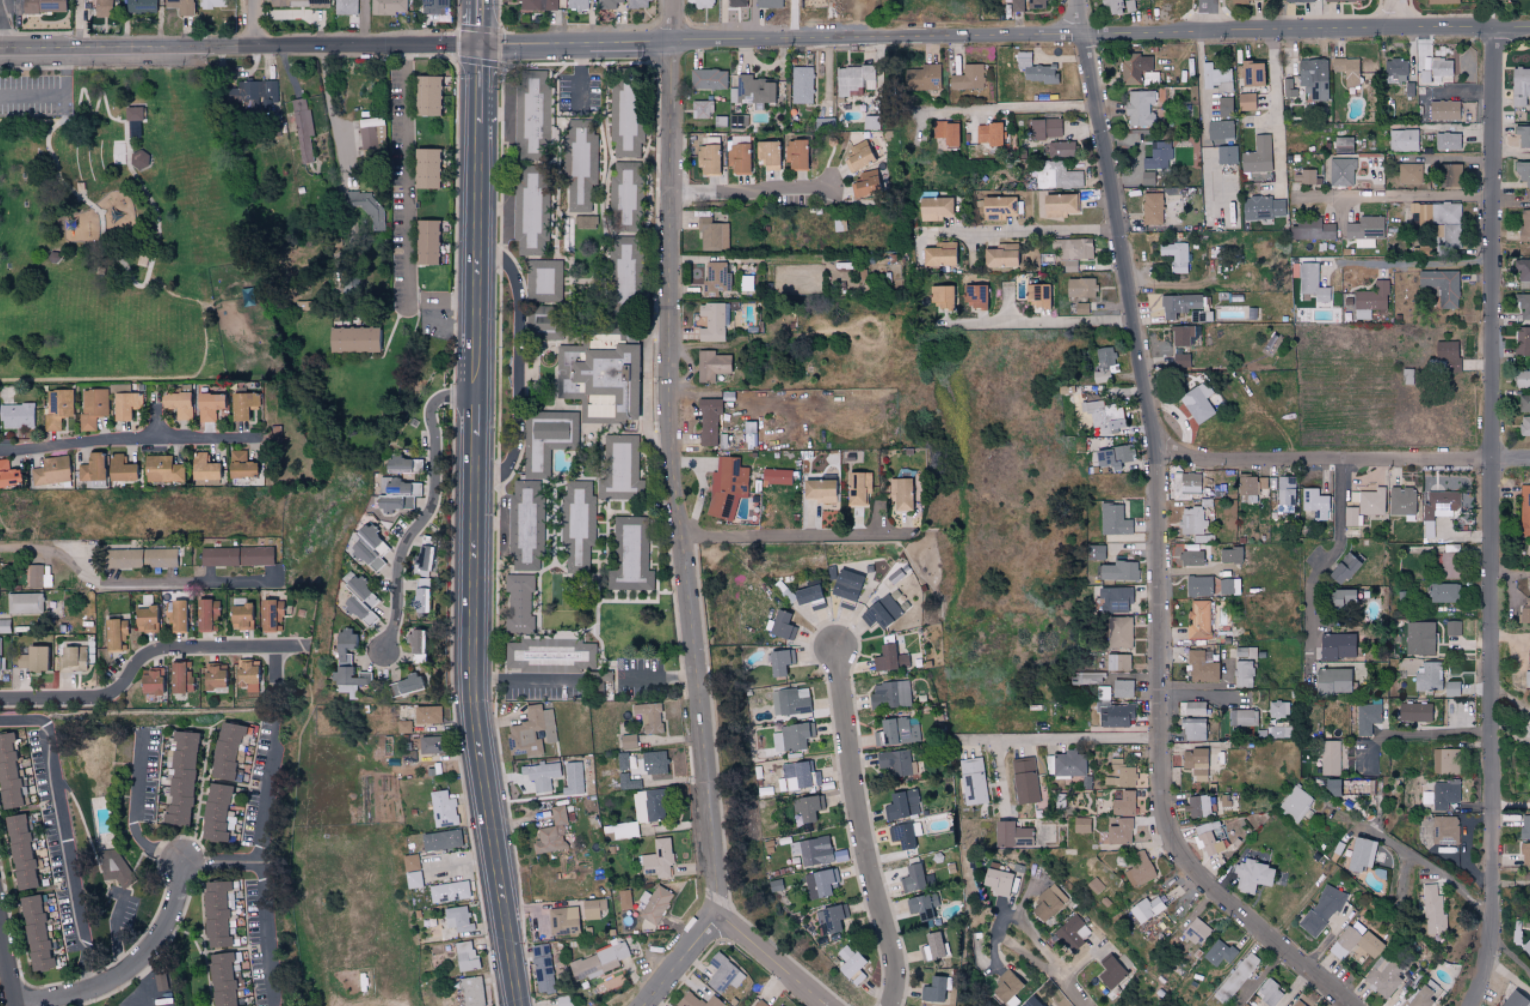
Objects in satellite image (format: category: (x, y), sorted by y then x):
building: (1345, 0)
building: (1500, 0)
building: (1245, 1)
building: (1299, 1)
building: (1441, 2)
building: (298, 3)
building: (639, 3)
building: (736, 3)
building: (767, 3)
building: (210, 4)
building: (577, 4)
building: (608, 4)
building: (702, 4)
building: (812, 4)
building: (1036, 4)
building: (537, 5)
building: (1017, 5)
building: (43, 6)
building: (142, 6)
building: (181, 6)
building: (1117, 6)
building: (345, 7)
building: (388, 7)
building: (433, 7)
building: (102, 8)
road: (1397, 12)
road: (1209, 14)
road: (796, 19)
road: (252, 21)
road: (81, 22)
road: (367, 22)
road: (1, 23)
road: (479, 23)
road: (764, 38)
traffic signals: (479, 46)
building: (1033, 68)
building: (1133, 68)
building: (1347, 70)
building: (1395, 71)
building: (1437, 72)
building: (1251, 74)
road: (580, 77)
building: (922, 78)
building: (968, 78)
building: (1218, 78)
building: (708, 79)
building: (850, 79)
building: (1313, 79)
building: (1520, 82)
road: (479, 85)
building: (802, 85)
building: (753, 90)
road: (1206, 94)
parking lot: (37, 96)
building: (251, 96)
building: (426, 96)
road: (59, 97)
building: (1246, 102)
road: (330, 103)
building: (1224, 107)
road: (1014, 108)
building: (1140, 108)
building: (701, 109)
building: (1444, 110)
building: (535, 111)
road: (1278, 112)
building: (135, 113)
building: (625, 119)
building: (1044, 128)
building: (134, 129)
building: (302, 130)
building: (1220, 130)
building: (946, 133)
building: (989, 134)
building: (367, 135)
building: (1523, 136)
building: (1403, 140)
building: (1447, 142)
building: (1342, 145)
building: (1059, 149)
building: (767, 153)
building: (796, 155)
building: (1226, 155)
building: (858, 156)
building: (1158, 156)
building: (1257, 156)
building: (139, 159)
building: (708, 159)
building: (738, 159)
building: (580, 167)
building: (425, 169)
building: (1341, 172)
building: (1410, 173)
building: (1523, 173)
building: (1057, 176)
building: (1449, 176)
building: (1147, 177)
building: (865, 185)
road: (760, 189)
building: (622, 196)
road: (1394, 196)
road: (211, 205)
building: (367, 206)
building: (1058, 206)
road: (408, 208)
building: (934, 208)
building: (998, 208)
building: (1262, 208)
building: (533, 209)
building: (1152, 209)
building: (1364, 228)
park: (119, 229)
road: (1031, 229)
building: (1311, 229)
building: (712, 235)
building: (426, 243)
building: (1072, 252)
road: (154, 254)
building: (938, 255)
building: (1000, 256)
building: (1175, 256)
road: (477, 258)
road: (1417, 261)
building: (624, 270)
building: (1523, 273)
building: (544, 276)
building: (714, 278)
building: (1312, 282)
building: (1441, 287)
building: (1080, 288)
building: (1037, 296)
building: (940, 297)
building: (973, 297)
building: (1370, 300)
building: (1179, 305)
building: (1521, 306)
road: (1051, 320)
building: (713, 321)
building: (541, 323)
building: (1182, 335)
building: (354, 338)
building: (1522, 341)
building: (1447, 355)
building: (1104, 359)
building: (1180, 360)
building: (711, 365)
road: (518, 366)
building: (599, 375)
building: (1522, 377)
building: (1197, 402)
building: (177, 403)
building: (126, 404)
building: (242, 404)
building: (1524, 404)
building: (208, 406)
building: (58, 407)
building: (93, 407)
building: (17, 415)
road: (476, 415)
building: (1103, 416)
building: (708, 421)
road: (155, 424)
building: (1524, 426)
road: (131, 436)
building: (546, 438)
building: (1112, 456)
road: (1344, 460)
road: (671, 461)
building: (395, 463)
building: (240, 464)
building: (415, 464)
building: (91, 467)
building: (202, 467)
building: (119, 468)
building: (620, 468)
building: (161, 469)
building: (51, 470)
building: (7, 473)
building: (776, 476)
building: (1189, 481)
building: (727, 487)
building: (858, 487)
building: (1252, 487)
building: (400, 489)
building: (817, 489)
building: (1286, 490)
building: (901, 494)
building: (1369, 500)
building: (1401, 500)
building: (387, 502)
building: (1317, 503)
building: (1439, 503)
road: (427, 507)
building: (1524, 509)
building: (1352, 516)
road: (1493, 517)
building: (1113, 519)
building: (1190, 520)
building: (524, 523)
building: (577, 523)
road: (793, 535)
road: (1165, 537)
building: (1203, 538)
road: (1338, 543)
building: (367, 544)
building: (1095, 551)
building: (1230, 554)
building: (236, 555)
building: (630, 556)
building: (1190, 557)
building: (140, 558)
building: (425, 558)
building: (1342, 568)
building: (1119, 570)
building: (36, 576)
road: (130, 582)
building: (845, 584)
building: (1198, 585)
building: (1229, 585)
building: (1528, 586)
building: (1444, 592)
building: (806, 594)
building: (1115, 598)
building: (360, 600)
building: (420, 600)
building: (24, 603)
building: (520, 603)
building: (881, 611)
building: (206, 613)
building: (271, 614)
building: (175, 615)
building: (241, 616)
building: (145, 618)
building: (1198, 619)
building: (781, 625)
building: (1452, 628)
building: (1119, 631)
building: (114, 632)
building: (1419, 637)
building: (417, 641)
building: (1336, 645)
building: (72, 657)
road: (149, 657)
building: (31, 658)
building: (889, 658)
building: (779, 661)
building: (1118, 662)
building: (347, 663)
building: (1202, 666)
building: (1243, 673)
building: (245, 675)
building: (213, 676)
building: (1428, 676)
building: (180, 677)
road: (655, 678)
building: (1332, 679)
building: (1527, 679)
building: (150, 680)
road: (527, 681)
building: (598, 681)
building: (404, 685)
building: (1122, 688)
building: (1451, 688)
building: (890, 694)
building: (790, 701)
building: (1194, 708)
building: (1279, 709)
building: (1414, 712)
building: (427, 714)
building: (1118, 715)
building: (648, 716)
building: (1368, 716)
building: (1243, 717)
road: (477, 723)
road: (1060, 724)
building: (403, 726)
building: (1194, 728)
building: (532, 730)
building: (1279, 730)
road: (1419, 734)
building: (792, 736)
building: (627, 741)
building: (430, 744)
building: (224, 750)
building: (408, 756)
building: (1330, 758)
building: (894, 760)
building: (1444, 761)
building: (654, 762)
building: (1069, 763)
building: (1195, 763)
building: (7, 773)
building: (540, 775)
building: (799, 775)
building: (1120, 775)
building: (180, 777)
building: (572, 778)
building: (1025, 780)
building: (973, 781)
building: (628, 782)
building: (1357, 787)
building: (1441, 793)
building: (1123, 803)
building: (1296, 803)
building: (901, 804)
road: (1511, 804)
building: (649, 805)
building: (1197, 806)
building: (807, 807)
road: (133, 808)
building: (443, 809)
building: (214, 812)
building: (558, 815)
building: (1081, 825)
road: (265, 826)
building: (1525, 827)
road: (865, 828)
building: (1445, 830)
building: (1119, 831)
road: (65, 833)
building: (1010, 834)
building: (901, 835)
building: (1208, 838)
building: (441, 840)
building: (548, 841)
building: (812, 850)
building: (20, 851)
building: (1360, 853)
building: (1525, 854)
building: (658, 859)
building: (411, 862)
building: (112, 864)
road: (1432, 865)
building: (1139, 868)
building: (1251, 875)
building: (912, 877)
building: (413, 879)
building: (997, 881)
building: (820, 882)
building: (1093, 885)
building: (448, 891)
building: (625, 899)
building: (1048, 902)
building: (655, 903)
building: (921, 905)
building: (593, 908)
building: (1145, 908)
building: (1323, 908)
building: (1433, 910)
building: (215, 913)
building: (831, 917)
building: (564, 918)
building: (458, 919)
road: (1003, 920)
road: (114, 930)
building: (1195, 931)
building: (1073, 932)
building: (35, 933)
road: (268, 934)
building: (1355, 943)
building: (931, 946)
building: (1526, 946)
building: (1219, 952)
building: (465, 955)
building: (600, 960)
building: (848, 960)
road: (8, 961)
road: (683, 963)
road: (769, 963)
road: (128, 964)
road: (4, 967)
building: (543, 968)
building: (1112, 970)
building: (723, 973)
building: (1384, 976)
building: (856, 977)
building: (1236, 978)
building: (221, 979)
building: (1005, 986)
building: (933, 989)
road: (1065, 989)
building: (472, 991)
building: (1268, 993)
building: (1426, 994)
building: (1514, 999)
building: (697, 1000)
building: (1030, 1002)
building: (760, 1003)
building: (1297, 1003)
building: (241, 1005)
building: (1245, 1005)

